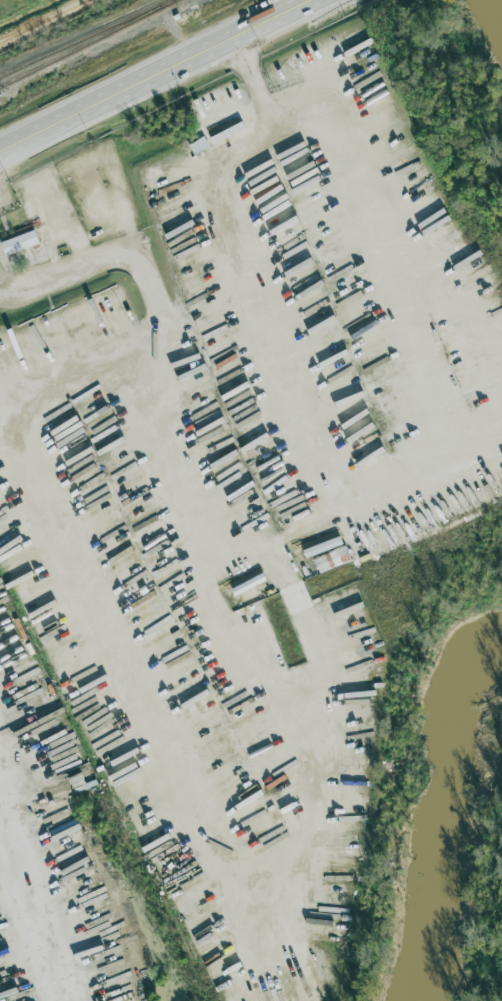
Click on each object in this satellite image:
river: (500, 2)
landfill: (10, 5)
road: (43, 20)
railway: (83, 36)
railway: (88, 43)
road: (153, 72)
building: (16, 243)
road: (164, 314)
road: (87, 315)
road: (98, 439)
road: (346, 492)
road: (123, 495)
road: (168, 596)
road: (297, 601)
road: (86, 714)
road: (250, 775)
river: (431, 812)
road: (31, 906)

